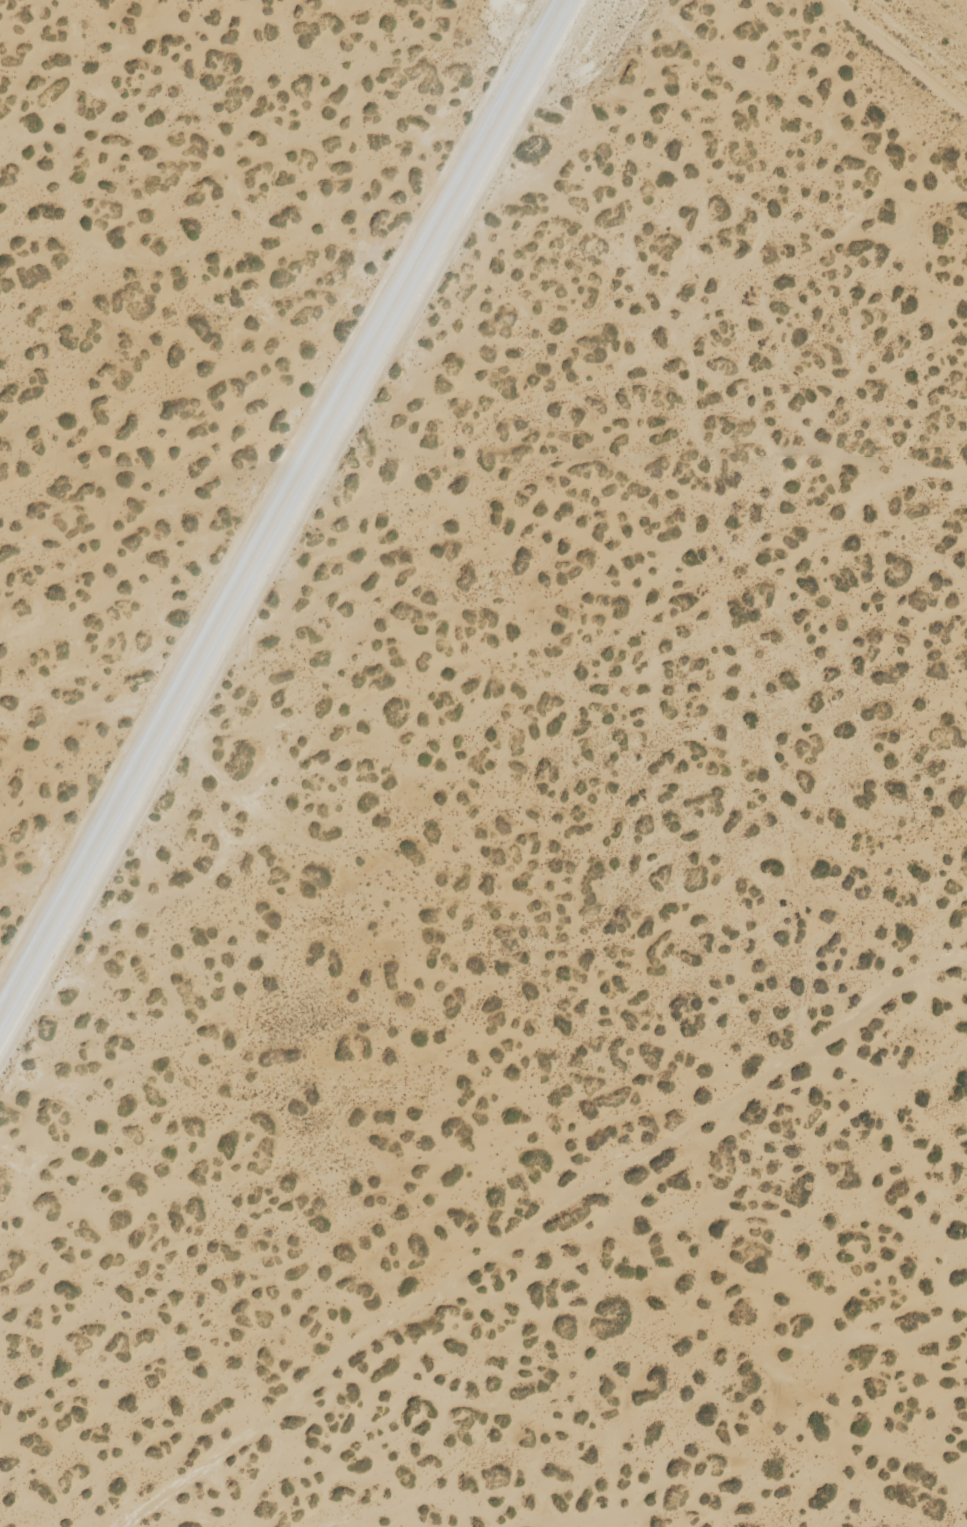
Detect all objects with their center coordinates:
road: (281, 509)

